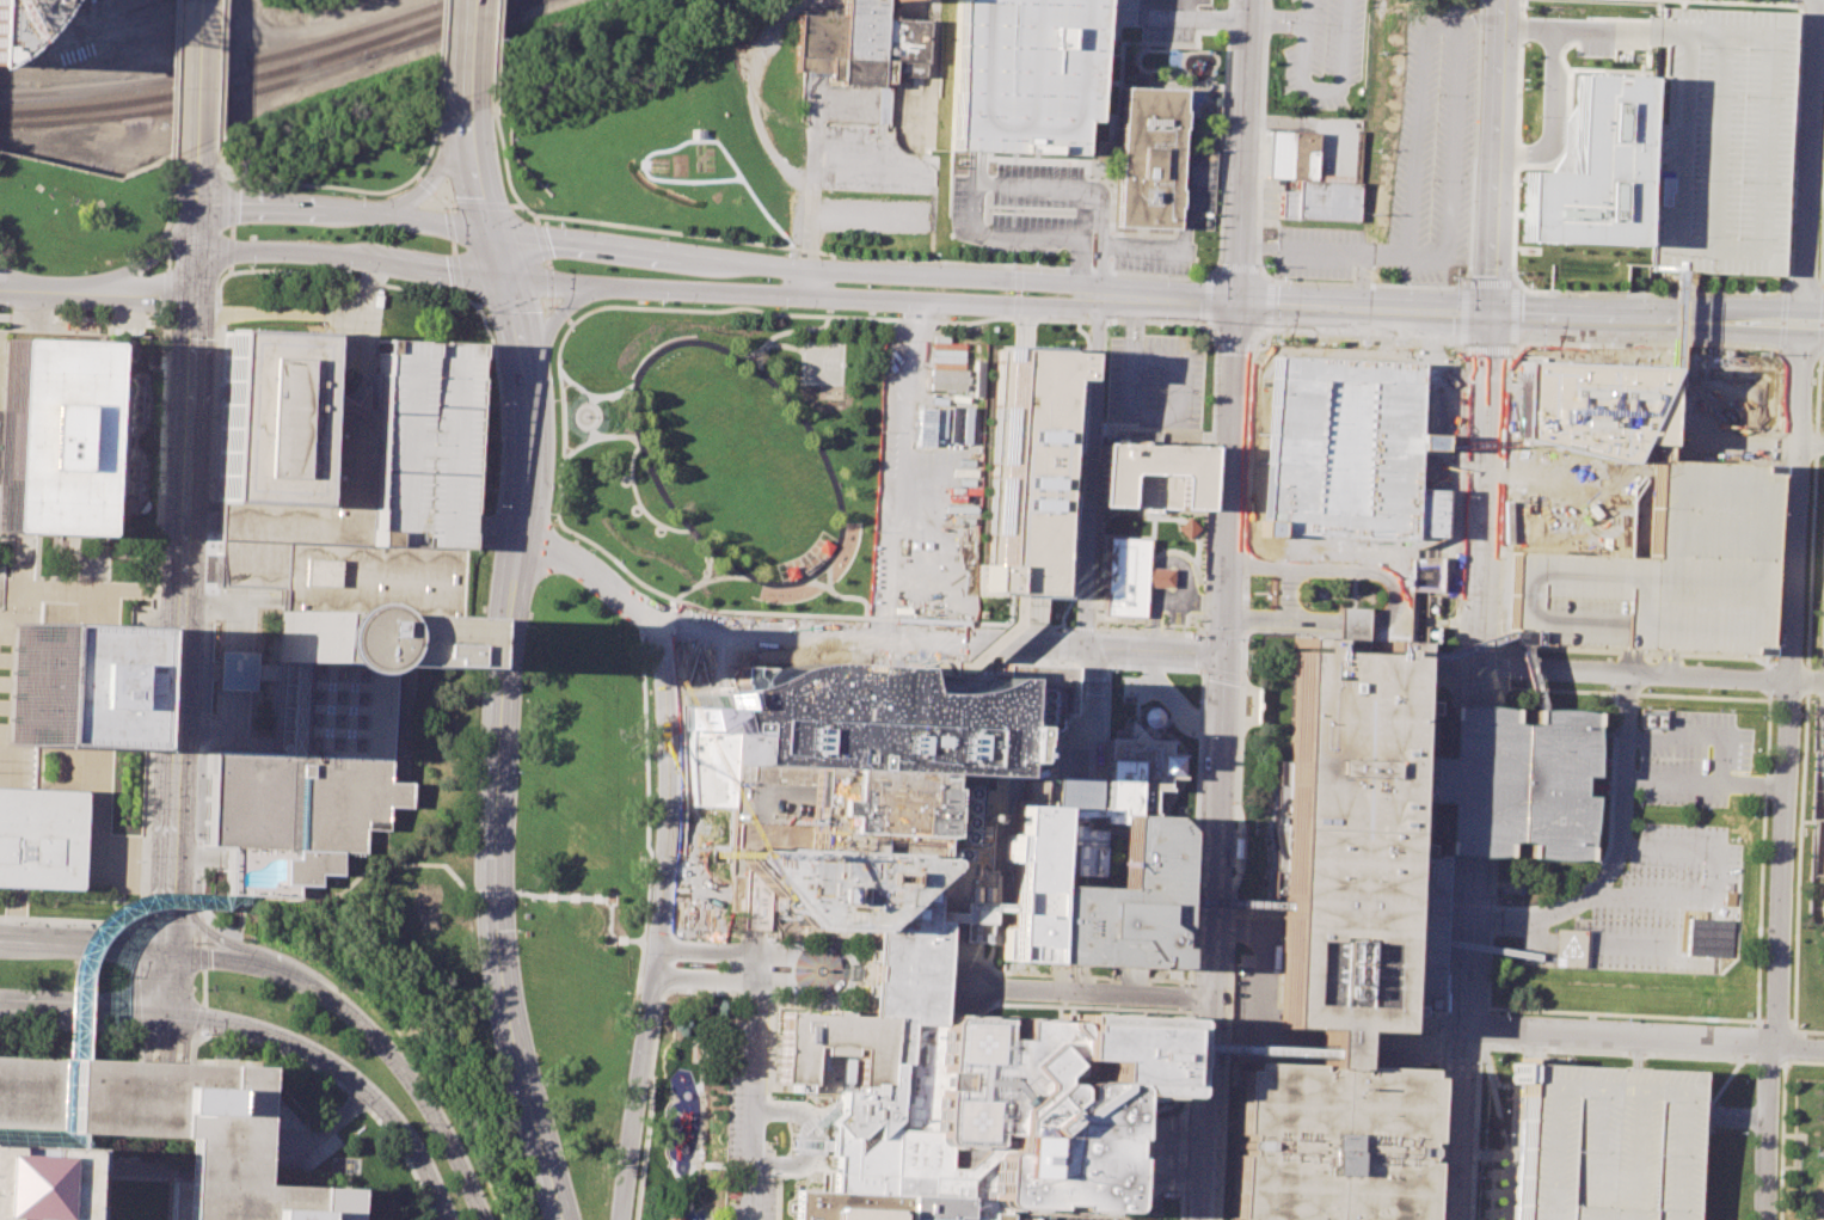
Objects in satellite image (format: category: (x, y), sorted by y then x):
building: (59, 0)
parking lot: (1286, 0)
parking lot: (75, 2)
street lamp: (1525, 7)
road: (1163, 17)
road: (1478, 17)
building: (14, 18)
railway: (441, 27)
railway: (452, 27)
road: (1583, 31)
road: (497, 42)
road: (489, 44)
building: (860, 45)
road: (471, 48)
parking lot: (1325, 50)
road: (440, 51)
railway: (231, 66)
road: (222, 67)
road: (932, 69)
road: (198, 73)
railway: (252, 76)
road: (173, 78)
street lamp: (1522, 87)
road: (755, 98)
railway: (188, 105)
road: (1449, 106)
road: (1079, 111)
road: (1549, 111)
road: (1245, 119)
road: (472, 127)
building: (1719, 137)
parking garage: (1719, 137)
road: (1797, 141)
parking lot: (859, 143)
road: (1712, 143)
building: (1098, 149)
street lamp: (1220, 149)
road: (811, 155)
building: (1148, 155)
road: (1808, 158)
road: (1498, 159)
parking lot: (1412, 164)
road: (441, 165)
road: (903, 168)
building: (1591, 171)
road: (959, 174)
street lamp: (1519, 178)
road: (479, 180)
building: (1307, 180)
road: (195, 185)
road: (338, 186)
road: (1034, 186)
street lamp: (253, 189)
road: (431, 189)
street lamp: (357, 195)
road: (168, 196)
road: (288, 204)
street lamp: (443, 207)
street lamp: (522, 211)
road: (448, 214)
road: (489, 220)
road: (536, 220)
road: (440, 225)
road: (231, 227)
traffic signals: (492, 237)
street lamp: (659, 237)
road: (1101, 237)
road: (1756, 241)
road: (167, 244)
road: (194, 245)
road: (282, 250)
street lamp: (785, 252)
street lamp: (901, 256)
road: (498, 258)
road: (547, 259)
road: (167, 262)
road: (939, 262)
road: (1082, 262)
street lamp: (1032, 263)
road: (141, 264)
street lamp: (247, 264)
street lamp: (1263, 265)
road: (1239, 266)
street lamp: (1516, 266)
street lamp: (342, 270)
road: (440, 270)
road: (865, 271)
road: (1238, 272)
street lamp: (1157, 275)
road: (174, 276)
street lamp: (1453, 276)
street lamp: (1279, 277)
road: (194, 281)
traffic signals: (504, 281)
road: (806, 282)
road: (10, 283)
road: (553, 283)
road: (1367, 283)
street lamp: (1525, 284)
street lamp: (1750, 288)
road: (174, 290)
street lamp: (1634, 290)
road: (167, 292)
road: (1018, 292)
road: (78, 293)
road: (919, 299)
street lamp: (659, 300)
road: (546, 302)
road: (552, 302)
road: (512, 304)
street lamp: (547, 306)
traffic signals: (1238, 306)
street lamp: (780, 307)
street lamp: (475, 311)
road: (1365, 312)
road: (302, 313)
road: (565, 314)
street lamp: (151, 315)
street lamp: (899, 315)
road: (1816, 315)
road: (1651, 318)
road: (167, 319)
road: (1816, 319)
traffic signals: (1493, 320)
road: (553, 324)
street lamp: (1155, 324)
road: (517, 330)
street lamp: (1275, 336)
street lamp: (1358, 341)
street lamp: (1605, 342)
road: (782, 344)
street lamp: (1214, 344)
street lamp: (1444, 344)
road: (1238, 345)
street lamp: (1682, 347)
road: (351, 348)
road: (1460, 349)
street lamp: (1462, 349)
street lamp: (1523, 349)
street lamp: (1748, 349)
street lamp: (214, 350)
road: (748, 354)
road: (1235, 356)
park: (823, 363)
road: (565, 376)
parking lot: (1153, 379)
street lamp: (167, 382)
road: (1082, 384)
road: (608, 393)
street lamp: (554, 399)
street lamp: (497, 404)
road: (502, 406)
road: (1249, 406)
road: (576, 411)
road: (594, 415)
street lamp: (211, 416)
street lamp: (1812, 418)
street lamp: (165, 429)
building: (57, 433)
road: (1519, 435)
road: (592, 437)
road: (597, 440)
building: (1566, 442)
road: (1813, 442)
building: (1341, 445)
parking garage: (1341, 445)
road: (210, 462)
road: (561, 467)
road: (898, 468)
building: (1028, 471)
street lamp: (162, 476)
building: (1155, 477)
street lamp: (209, 480)
street lamp: (1463, 496)
road: (639, 502)
street lamp: (1211, 503)
street lamp: (493, 504)
street lamp: (1820, 504)
road: (1486, 513)
street lamp: (552, 514)
street lamp: (161, 522)
road: (158, 539)
street lamp: (208, 545)
street lamp: (589, 548)
road: (1089, 548)
road: (708, 563)
road: (738, 568)
parking lot: (1657, 571)
street lamp: (159, 572)
building: (1663, 572)
building: (1424, 574)
building: (1125, 577)
road: (817, 582)
road: (1163, 586)
building: (337, 588)
road: (689, 588)
road: (1289, 591)
road: (841, 595)
road: (1393, 595)
street lamp: (1458, 600)
street lamp: (1817, 602)
road: (180, 621)
street lamp: (481, 621)
road: (1156, 624)
street lamp: (528, 626)
road: (1085, 626)
street lamp: (1206, 626)
road: (1154, 631)
road: (861, 634)
road: (1062, 643)
street lamp: (155, 648)
road: (1106, 648)
road: (1451, 651)
road: (518, 652)
road: (137, 654)
road: (1203, 654)
road: (235, 668)
road: (1529, 676)
road: (1635, 678)
road: (1203, 679)
street lamp: (1512, 681)
road: (6, 682)
road: (1819, 683)
road: (1823, 683)
building: (59, 685)
street lamp: (1605, 686)
street lamp: (1703, 689)
street lamp: (1764, 694)
street lamp: (1814, 695)
road: (1174, 701)
street lamp: (153, 713)
street lamp: (649, 725)
building: (870, 735)
parking garage: (870, 735)
street lamp: (1203, 737)
road: (1691, 738)
road: (96, 749)
street lamp: (152, 760)
street lamp: (474, 766)
road: (1788, 768)
street lamp: (518, 771)
building: (1138, 771)
street lamp: (197, 774)
park: (586, 774)
road: (1474, 779)
road: (1706, 780)
road: (702, 791)
road: (682, 798)
road: (497, 803)
street lamp: (151, 809)
road: (1220, 813)
road: (1080, 814)
building: (1398, 823)
street lamp: (195, 833)
building: (39, 838)
street lamp: (148, 854)
street lamp: (650, 854)
road: (1617, 854)
parking lot: (1660, 859)
street lamp: (1197, 865)
road: (362, 876)
building: (1043, 878)
street lamp: (194, 881)
road: (493, 894)
road: (530, 895)
road: (563, 896)
road: (586, 896)
road: (1653, 897)
road: (646, 903)
road: (1230, 903)
building: (1125, 907)
parking garage: (1125, 907)
road: (1001, 909)
street lamp: (146, 913)
road: (609, 918)
road: (199, 919)
street lamp: (14, 921)
road: (73, 921)
road: (661, 922)
street lamp: (62, 924)
building: (1823, 924)
road: (220, 925)
street lamp: (123, 926)
street lamp: (214, 928)
street lamp: (517, 930)
road: (99, 931)
street lamp: (473, 937)
building: (1568, 942)
road: (86, 943)
road: (1709, 946)
helipad: (1567, 948)
traffic signals: (172, 950)
road: (1497, 951)
street lamp: (641, 952)
road: (729, 952)
road: (821, 952)
road: (638, 965)
street lamp: (1192, 971)
road: (135, 976)
road: (727, 980)
road: (170, 983)
street lamp: (209, 986)
road: (202, 987)
road: (1260, 993)
road: (1083, 994)
street lamp: (284, 1005)
road: (84, 1011)
traffic signals: (168, 1017)
road: (199, 1018)
building: (944, 1020)
street lamp: (55, 1024)
road: (84, 1028)
street lamp: (113, 1028)
street lamp: (205, 1031)
road: (370, 1031)
road: (700, 1034)
road: (1405, 1037)
road: (1462, 1037)
road: (1333, 1038)
road: (167, 1040)
helipad: (966, 1042)
road: (293, 1043)
road: (1642, 1043)
building: (1333, 1044)
road: (1249, 1048)
street lamp: (626, 1050)
street lamp: (357, 1053)
building: (1283, 1055)
road: (1787, 1062)
road: (1451, 1065)
road: (753, 1068)
road: (331, 1078)
road: (1596, 1080)
street lamp: (545, 1081)
road: (649, 1081)
street lamp: (500, 1092)
road: (73, 1099)
street lamp: (1186, 1104)
road: (1718, 1115)
road: (664, 1118)
helipad: (963, 1120)
road: (1781, 1122)
street lamp: (417, 1123)
road: (330, 1126)
building: (164, 1128)
road: (35, 1138)
building: (1332, 1141)
building: (1603, 1142)
parking lot: (1603, 1142)
road: (695, 1145)
street lamp: (613, 1147)
road: (1437, 1147)
road: (1582, 1150)
road: (1619, 1151)
road: (682, 1161)
road: (720, 1164)
road: (678, 1166)
road: (136, 1167)
road: (423, 1169)
road: (184, 1181)
building: (38, 1183)
road: (695, 1188)
street lamp: (453, 1193)
road: (687, 1207)
parking lot: (1089, 1218)
building: (1823, 1219)

